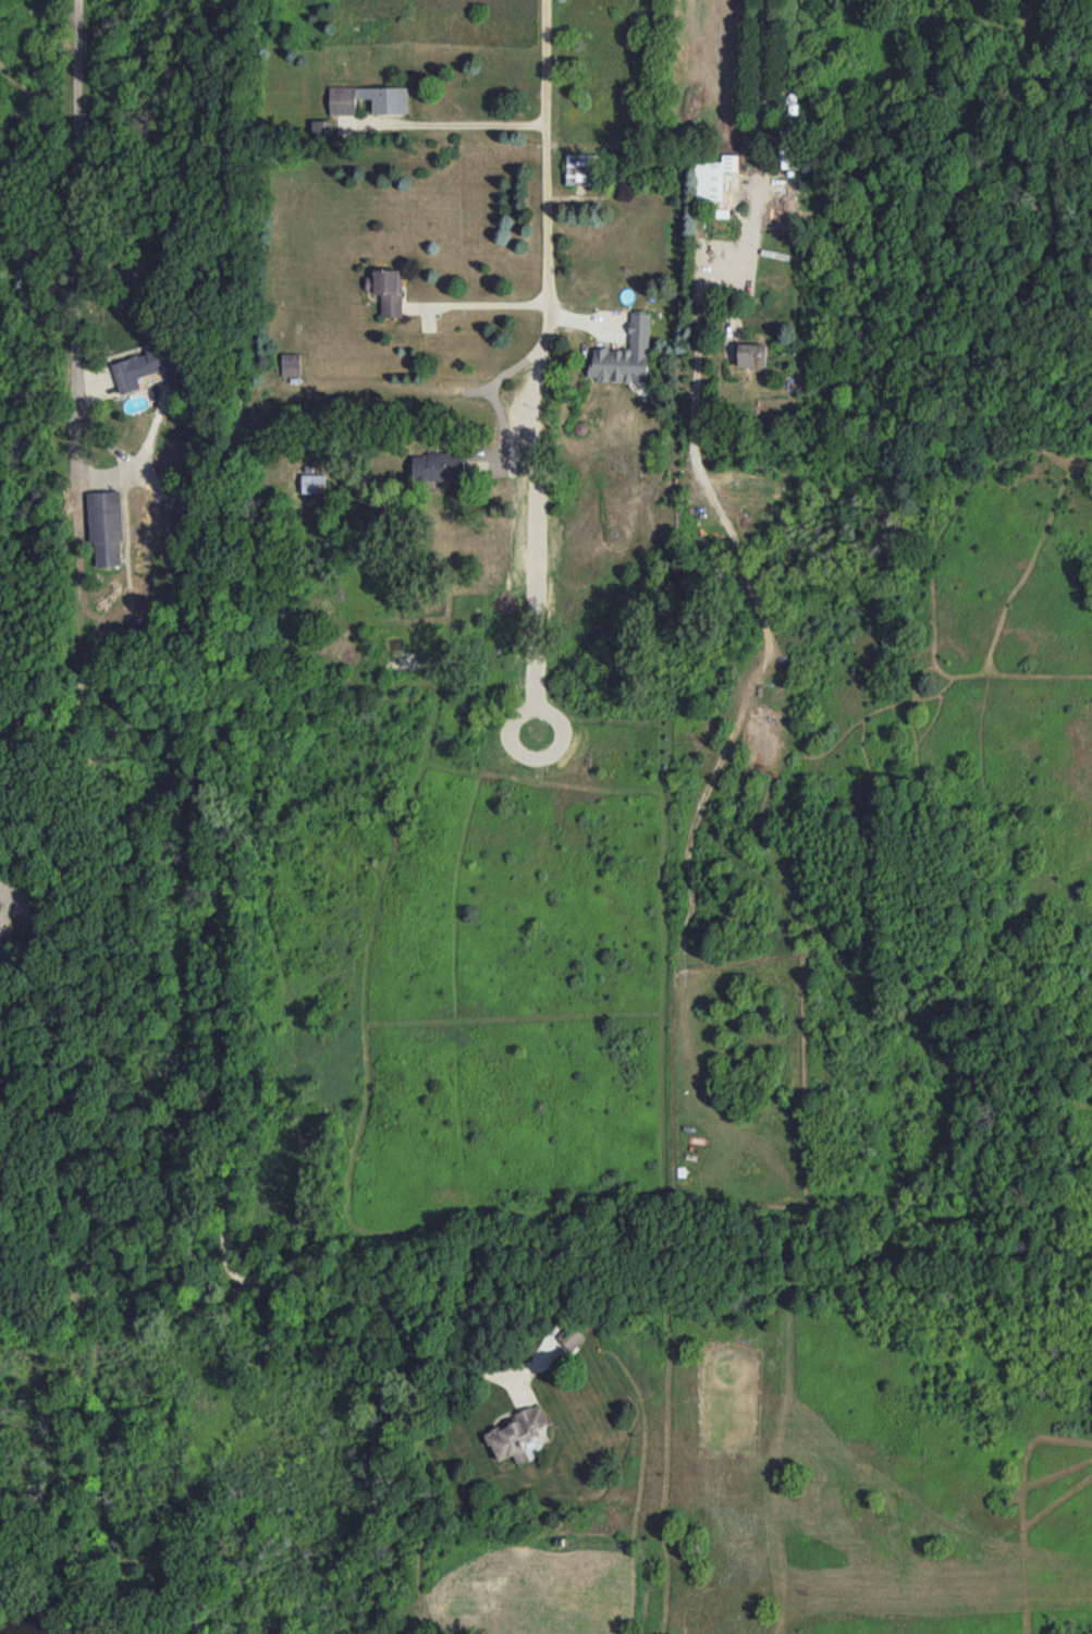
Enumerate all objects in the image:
building: (390, 106)
road: (463, 123)
building: (321, 126)
road: (757, 142)
building: (716, 181)
road: (77, 195)
road: (543, 215)
building: (388, 290)
road: (475, 304)
building: (752, 355)
building: (624, 356)
building: (291, 364)
building: (145, 369)
road: (392, 389)
building: (439, 466)
building: (314, 483)
building: (106, 526)
road: (229, 791)
road: (0, 889)
building: (0, 947)
building: (567, 1333)
building: (519, 1436)

